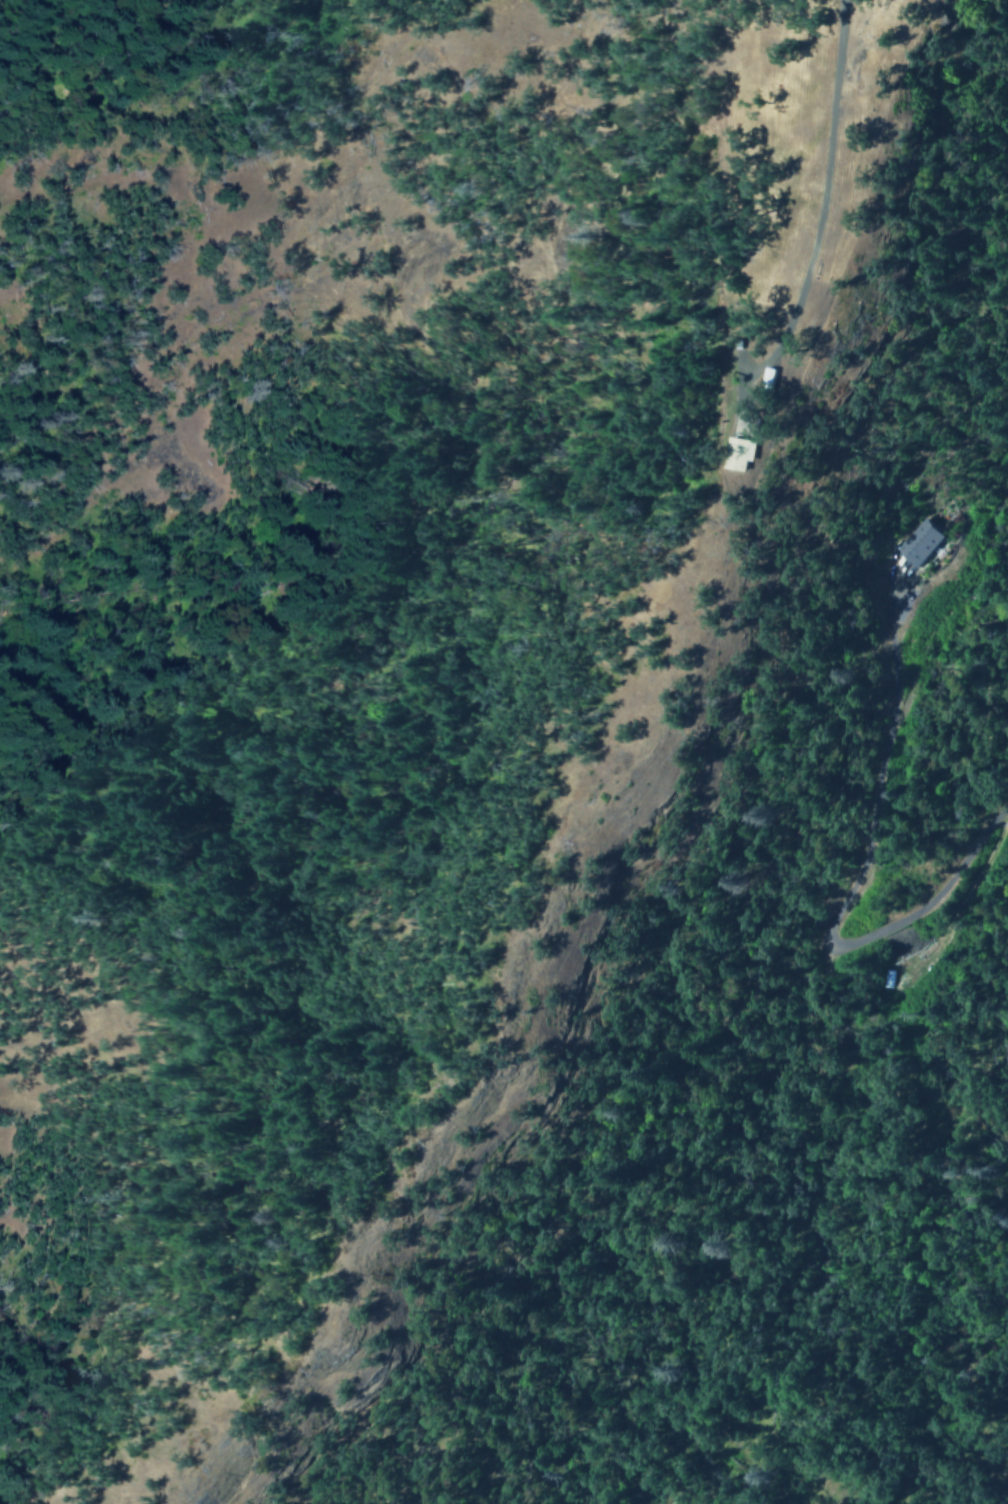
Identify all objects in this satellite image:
road: (819, 206)
building: (756, 377)
building: (721, 452)
building: (916, 542)
road: (857, 885)

